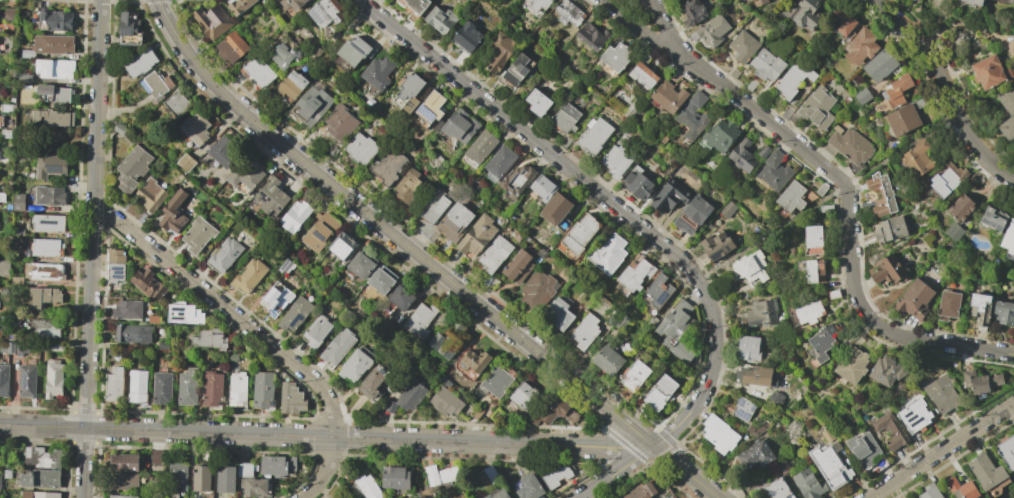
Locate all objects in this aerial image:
building: (678, 0)
road: (655, 1)
building: (1005, 1)
building: (759, 2)
building: (974, 2)
building: (293, 3)
building: (538, 3)
building: (42, 4)
building: (240, 5)
building: (415, 5)
building: (917, 8)
building: (11, 10)
road: (619, 11)
building: (693, 11)
building: (327, 12)
building: (567, 12)
building: (807, 12)
building: (412, 17)
building: (441, 18)
building: (53, 21)
building: (213, 21)
road: (665, 24)
building: (130, 28)
building: (846, 28)
building: (712, 30)
building: (276, 36)
building: (468, 36)
building: (591, 36)
building: (565, 37)
road: (652, 38)
building: (54, 44)
building: (743, 46)
building: (860, 46)
building: (232, 48)
building: (355, 50)
building: (499, 51)
building: (26, 53)
building: (317, 53)
building: (66, 56)
building: (614, 56)
building: (282, 57)
building: (141, 62)
building: (766, 65)
building: (881, 66)
building: (55, 69)
building: (258, 71)
building: (515, 71)
building: (990, 71)
building: (378, 72)
building: (733, 73)
building: (643, 74)
building: (26, 77)
building: (793, 79)
building: (159, 84)
building: (750, 84)
building: (290, 87)
building: (45, 89)
road: (946, 89)
building: (897, 90)
building: (409, 92)
building: (62, 95)
building: (668, 96)
building: (862, 96)
building: (847, 99)
building: (537, 101)
building: (921, 101)
building: (177, 104)
building: (312, 105)
building: (431, 107)
building: (817, 107)
building: (7, 108)
building: (1006, 110)
building: (692, 116)
building: (51, 117)
building: (564, 117)
building: (902, 120)
building: (1, 122)
building: (340, 123)
building: (459, 125)
building: (196, 128)
building: (119, 129)
building: (721, 134)
building: (594, 135)
building: (57, 139)
building: (847, 145)
building: (361, 148)
building: (479, 148)
building: (225, 151)
building: (763, 151)
building: (0, 155)
building: (742, 155)
building: (915, 158)
building: (615, 161)
building: (186, 163)
building: (499, 163)
building: (50, 165)
building: (387, 167)
building: (133, 168)
building: (774, 170)
building: (246, 172)
building: (518, 179)
building: (942, 183)
building: (638, 185)
building: (409, 186)
building: (544, 187)
building: (476, 188)
building: (821, 189)
building: (150, 194)
building: (881, 195)
building: (50, 196)
building: (670, 196)
building: (791, 196)
building: (269, 198)
road: (606, 199)
building: (19, 202)
building: (435, 205)
building: (960, 207)
building: (825, 208)
building: (727, 209)
building: (558, 212)
building: (173, 213)
building: (692, 214)
building: (295, 216)
building: (514, 217)
road: (849, 219)
building: (993, 220)
building: (456, 222)
building: (49, 223)
building: (425, 228)
building: (889, 229)
building: (321, 230)
building: (953, 231)
building: (17, 233)
building: (581, 234)
building: (198, 235)
building: (433, 235)
building: (477, 235)
building: (517, 236)
building: (813, 239)
building: (1008, 239)
building: (716, 245)
building: (344, 246)
building: (47, 248)
road: (90, 248)
building: (791, 251)
building: (566, 252)
building: (495, 253)
building: (608, 254)
building: (226, 255)
road: (425, 260)
building: (116, 265)
building: (360, 266)
building: (749, 266)
building: (286, 267)
building: (519, 267)
building: (3, 268)
building: (888, 269)
building: (814, 271)
building: (45, 272)
building: (635, 274)
building: (249, 276)
building: (16, 280)
building: (489, 280)
building: (381, 282)
building: (148, 283)
building: (494, 284)
building: (538, 290)
building: (659, 291)
building: (0, 292)
building: (44, 297)
building: (401, 298)
building: (277, 299)
building: (914, 300)
building: (586, 305)
building: (948, 305)
building: (979, 308)
building: (127, 310)
building: (808, 311)
building: (1004, 312)
building: (295, 313)
building: (761, 313)
building: (185, 314)
building: (559, 314)
building: (153, 319)
building: (420, 321)
building: (621, 323)
building: (652, 323)
building: (389, 327)
building: (46, 328)
building: (676, 330)
road: (255, 331)
building: (317, 331)
building: (585, 331)
building: (133, 333)
building: (211, 338)
building: (448, 341)
building: (822, 341)
building: (164, 345)
building: (51, 346)
building: (338, 346)
building: (7, 347)
building: (22, 348)
building: (748, 348)
building: (234, 357)
building: (475, 361)
building: (609, 361)
building: (354, 365)
building: (851, 365)
building: (886, 371)
building: (635, 375)
building: (755, 375)
building: (53, 379)
building: (4, 380)
building: (496, 380)
building: (28, 381)
building: (980, 381)
building: (373, 382)
building: (446, 382)
building: (114, 385)
building: (137, 385)
building: (188, 386)
building: (163, 387)
building: (212, 388)
building: (236, 389)
building: (263, 390)
building: (661, 392)
building: (411, 394)
building: (941, 394)
building: (524, 396)
building: (775, 397)
building: (291, 398)
building: (444, 400)
building: (390, 406)
building: (739, 407)
building: (558, 411)
building: (477, 413)
building: (498, 415)
building: (914, 415)
building: (533, 419)
building: (756, 428)
building: (889, 430)
building: (718, 434)
building: (826, 434)
road: (301, 435)
road: (625, 442)
building: (862, 448)
building: (1006, 450)
road: (941, 451)
building: (755, 453)
road: (614, 454)
road: (638, 455)
building: (42, 457)
building: (155, 457)
building: (125, 462)
building: (276, 464)
building: (782, 466)
building: (828, 466)
building: (245, 469)
building: (7, 473)
building: (440, 474)
building: (555, 475)
building: (987, 475)
building: (396, 477)
building: (487, 477)
building: (201, 478)
building: (40, 479)
building: (177, 479)
building: (226, 479)
building: (125, 481)
building: (0, 482)
road: (600, 482)
building: (807, 483)
building: (255, 487)
building: (367, 487)
building: (529, 487)
building: (777, 489)
building: (961, 489)
building: (642, 491)
building: (930, 491)
building: (432, 493)
building: (40, 494)
building: (497, 494)
building: (666, 494)
building: (122, 496)

